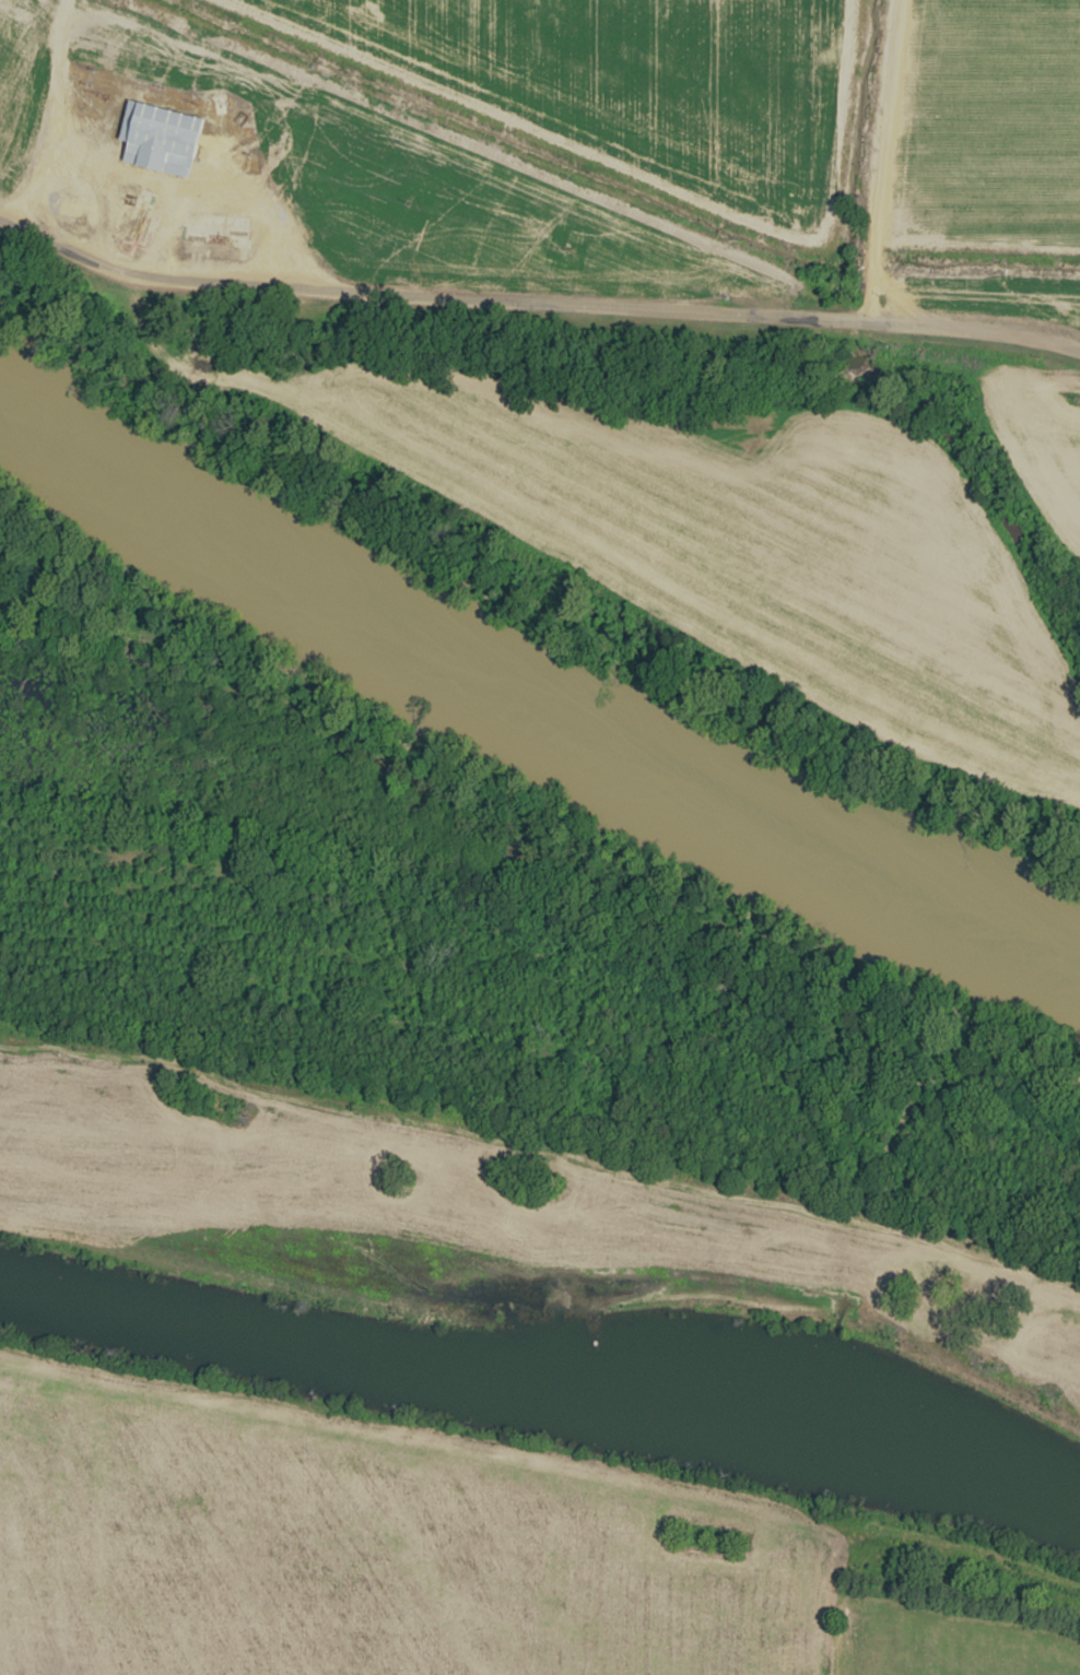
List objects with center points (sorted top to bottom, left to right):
building: (161, 138)
road: (881, 162)
road: (168, 178)
building: (64, 207)
building: (209, 236)
road: (536, 305)
river: (520, 697)
road: (542, 1146)
crop: (436, 1218)
road: (549, 1306)
road: (542, 1458)
crop: (356, 1555)
road: (824, 1597)
park: (944, 1639)

